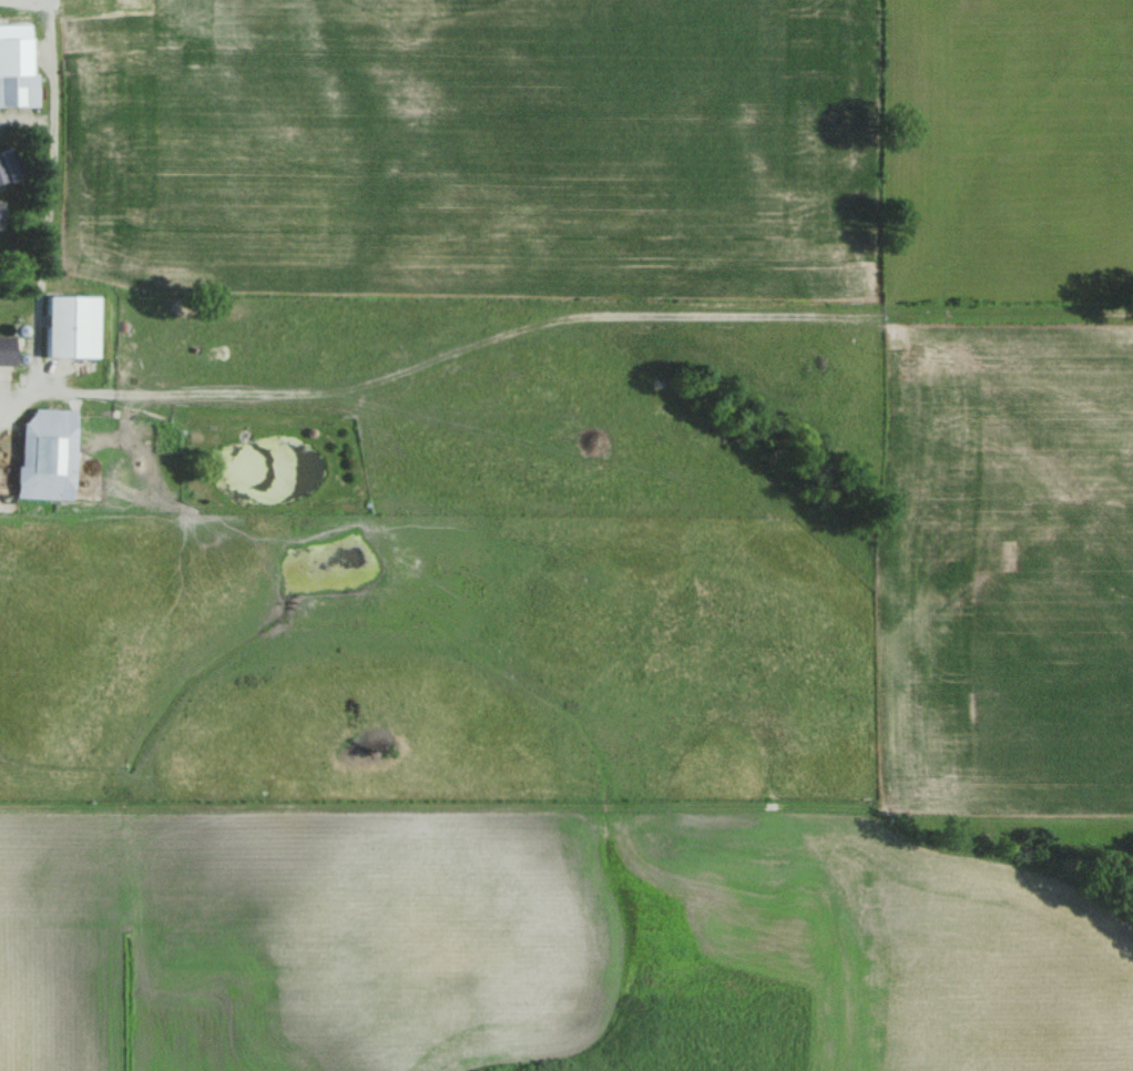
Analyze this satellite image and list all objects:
building: (12, 89)
road: (48, 202)
building: (64, 326)
building: (3, 349)
building: (41, 453)

